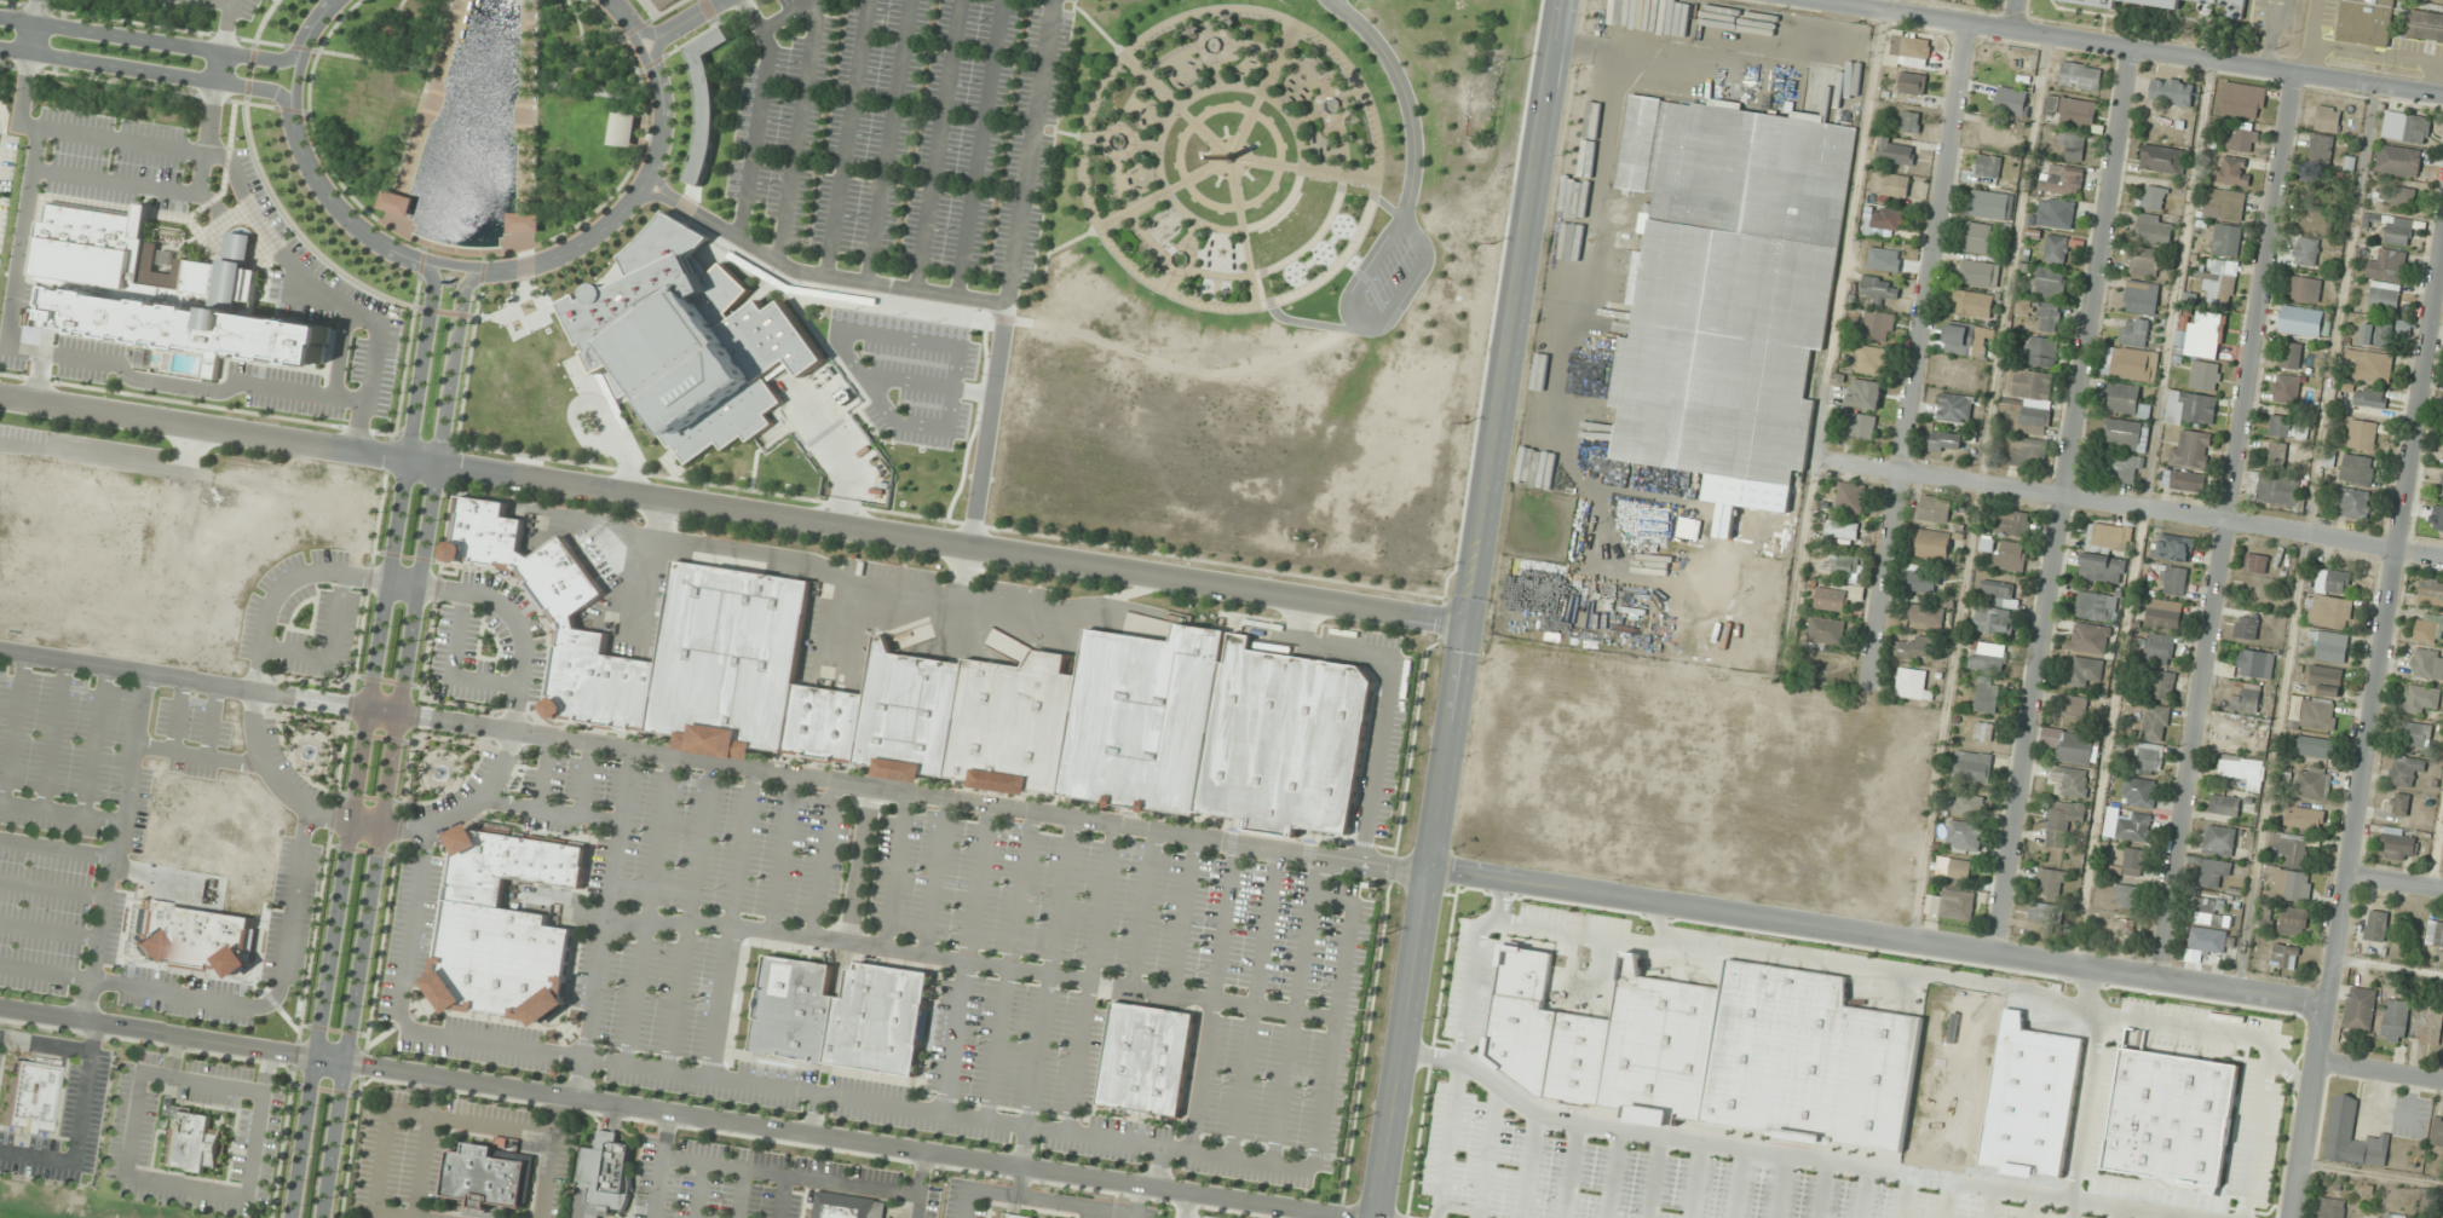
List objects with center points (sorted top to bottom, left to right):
road: (330, 1)
road: (221, 2)
building: (2101, 2)
building: (2203, 6)
road: (784, 13)
road: (690, 16)
road: (2017, 16)
building: (2366, 22)
road: (36, 25)
building: (2426, 25)
road: (663, 34)
road: (155, 40)
road: (225, 40)
road: (1326, 45)
road: (583, 48)
road: (2130, 48)
road: (1212, 51)
road: (419, 67)
road: (434, 69)
road: (149, 70)
building: (2080, 76)
road: (1153, 81)
building: (1913, 82)
road: (586, 91)
road: (1262, 91)
road: (1401, 98)
building: (705, 100)
building: (2011, 100)
building: (2243, 100)
road: (1179, 105)
building: (2072, 110)
road: (427, 114)
road: (755, 115)
building: (2328, 119)
park: (479, 120)
building: (1911, 121)
road: (529, 123)
building: (2405, 127)
building: (627, 129)
road: (795, 129)
road: (77, 132)
road: (1187, 134)
road: (207, 138)
road: (846, 138)
road: (886, 140)
building: (2243, 140)
road: (1124, 142)
road: (937, 144)
building: (2073, 146)
road: (976, 148)
building: (2321, 150)
road: (1027, 151)
building: (1896, 151)
park: (1227, 158)
building: (2162, 160)
building: (2399, 160)
road: (1256, 161)
building: (1988, 166)
building: (2232, 171)
building: (2064, 180)
road: (1235, 181)
road: (134, 184)
building: (1896, 185)
road: (1165, 191)
building: (2154, 194)
building: (2403, 197)
building: (399, 203)
building: (2229, 203)
building: (1990, 204)
building: (2056, 213)
building: (2317, 219)
building: (1884, 221)
building: (528, 223)
building: (2154, 229)
building: (2399, 231)
building: (1978, 237)
building: (2226, 239)
road: (221, 243)
building: (2057, 248)
road: (483, 252)
building: (2307, 252)
road: (1183, 254)
building: (2145, 261)
road: (1129, 264)
building: (2387, 265)
road: (482, 271)
building: (1980, 273)
parking lot: (1381, 276)
road: (307, 277)
building: (2050, 283)
building: (2218, 283)
building: (1729, 284)
building: (165, 289)
building: (1880, 289)
building: (2305, 289)
road: (933, 291)
building: (2384, 296)
building: (2142, 298)
building: (1974, 304)
road: (1517, 311)
building: (2049, 317)
building: (2304, 321)
road: (1367, 323)
building: (1878, 325)
building: (2134, 331)
building: (2378, 334)
building: (2203, 336)
building: (1965, 339)
building: (695, 341)
road: (342, 351)
building: (2042, 352)
road: (1920, 353)
building: (2292, 354)
road: (953, 358)
road: (105, 359)
road: (426, 359)
building: (1873, 360)
building: (2130, 363)
building: (2373, 365)
building: (1958, 371)
road: (39, 374)
building: (2205, 376)
building: (506, 377)
road: (928, 383)
building: (2286, 388)
building: (2032, 397)
building: (2370, 398)
building: (2126, 399)
building: (1955, 408)
building: (2191, 408)
road: (206, 425)
building: (2280, 425)
building: (1861, 426)
building: (2126, 434)
building: (2362, 434)
building: (1946, 441)
road: (192, 448)
building: (2191, 449)
building: (2029, 452)
building: (2278, 454)
road: (94, 456)
building: (2121, 467)
building: (2358, 469)
building: (2184, 480)
building: (2278, 491)
building: (1850, 497)
road: (2064, 502)
building: (2356, 503)
road: (2134, 507)
building: (1935, 508)
building: (2013, 523)
road: (2229, 526)
building: (1843, 530)
building: (2109, 537)
road: (940, 539)
building: (1935, 544)
building: (2174, 548)
building: (2011, 556)
building: (2257, 562)
building: (1843, 564)
building: (2102, 568)
building: (1921, 581)
building: (2174, 581)
building: (2333, 581)
road: (417, 582)
road: (392, 583)
building: (2431, 591)
building: (2001, 593)
building: (1832, 600)
building: (2096, 605)
building: (2332, 611)
building: (1925, 613)
building: (2163, 613)
building: (1994, 620)
building: (2247, 627)
building: (2430, 629)
building: (1828, 631)
building: (2090, 637)
building: (2333, 646)
road: (333, 647)
building: (1915, 647)
building: (2160, 648)
building: (1988, 657)
building: (2255, 663)
building: (2428, 663)
road: (453, 665)
building: (2085, 670)
road: (186, 680)
building: (2326, 680)
building: (2163, 686)
building: (958, 697)
building: (1988, 697)
building: (2246, 697)
building: (2421, 698)
building: (2076, 710)
road: (172, 714)
building: (2318, 715)
road: (214, 720)
building: (2156, 722)
road: (10, 725)
building: (1984, 731)
road: (2372, 733)
building: (2416, 733)
road: (50, 734)
road: (90, 741)
road: (396, 743)
building: (2070, 745)
building: (2317, 747)
fountain: (312, 752)
road: (200, 754)
building: (2149, 758)
building: (1974, 767)
road: (545, 770)
building: (2246, 772)
fountain: (443, 773)
building: (2404, 773)
road: (587, 778)
building: (2070, 781)
building: (2314, 785)
road: (900, 790)
building: (2140, 792)
building: (2401, 803)
building: (1970, 806)
building: (2224, 806)
road: (553, 808)
road: (58, 813)
building: (2305, 818)
building: (2063, 821)
building: (2136, 827)
building: (1965, 835)
building: (2219, 841)
building: (2399, 843)
road: (114, 848)
road: (56, 849)
road: (784, 852)
road: (825, 859)
building: (2134, 861)
road: (860, 864)
building: (1954, 867)
road: (897, 870)
building: (2292, 870)
building: (2214, 872)
road: (938, 876)
road: (2397, 881)
building: (2052, 883)
road: (51, 889)
building: (2126, 896)
building: (1958, 904)
road: (1143, 907)
road: (650, 908)
building: (2212, 912)
road: (1186, 913)
building: (2046, 913)
road: (691, 914)
building: (2266, 917)
road: (1422, 920)
road: (605, 922)
road: (732, 922)
building: (2293, 922)
building: (2124, 925)
building: (2376, 925)
building: (505, 927)
road: (47, 931)
building: (2435, 934)
road: (1880, 936)
building: (191, 939)
building: (2211, 941)
building: (2286, 956)
road: (968, 957)
road: (955, 958)
road: (333, 963)
road: (1010, 964)
road: (1093, 977)
road: (1986, 982)
road: (2084, 988)
road: (1214, 994)
road: (1255, 1001)
road: (235, 1004)
road: (1045, 1005)
road: (1295, 1008)
building: (2361, 1009)
building: (846, 1015)
building: (2393, 1018)
building: (2430, 1023)
road: (44, 1044)
road: (177, 1056)
building: (1147, 1060)
building: (1793, 1063)
road: (2381, 1070)
road: (219, 1084)
building: (23, 1097)
road: (908, 1106)
road: (2085, 1106)
road: (679, 1113)
building: (2170, 1119)
road: (491, 1125)
road: (75, 1126)
building: (2437, 1131)
road: (2253, 1135)
building: (2352, 1136)
road: (1447, 1139)
building: (191, 1144)
road: (426, 1145)
road: (1487, 1151)
road: (549, 1155)
road: (1787, 1155)
road: (380, 1161)
road: (662, 1165)
road: (1160, 1166)
road: (1527, 1166)
road: (1569, 1171)
road: (1612, 1173)
road: (791, 1174)
building: (604, 1177)
road: (1652, 1177)
building: (485, 1178)
road: (1693, 1181)
road: (1736, 1183)
road: (921, 1184)
road: (189, 1187)
road: (1780, 1187)
road: (1821, 1189)
road: (699, 1190)
road: (981, 1190)
road: (742, 1193)
road: (1863, 1193)
road: (782, 1196)
road: (1906, 1196)
road: (1948, 1199)
road: (1136, 1201)
road: (1992, 1202)
road: (1077, 1203)
road: (1186, 1205)
building: (847, 1206)
road: (2033, 1206)
building: (2329, 1207)
road: (2075, 1208)
road: (2116, 1212)
road: (1304, 1213)
building: (1016, 1216)
road: (2157, 1216)
building: (2363, 1216)

